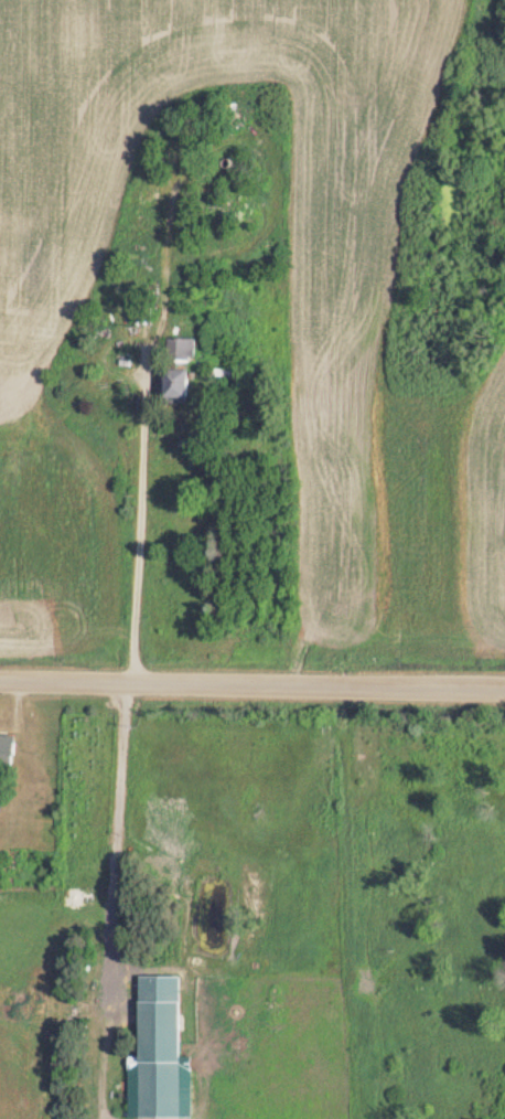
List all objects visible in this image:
building: (187, 350)
building: (186, 388)
road: (141, 530)
road: (251, 683)
building: (11, 754)
road: (114, 899)
building: (166, 1048)

